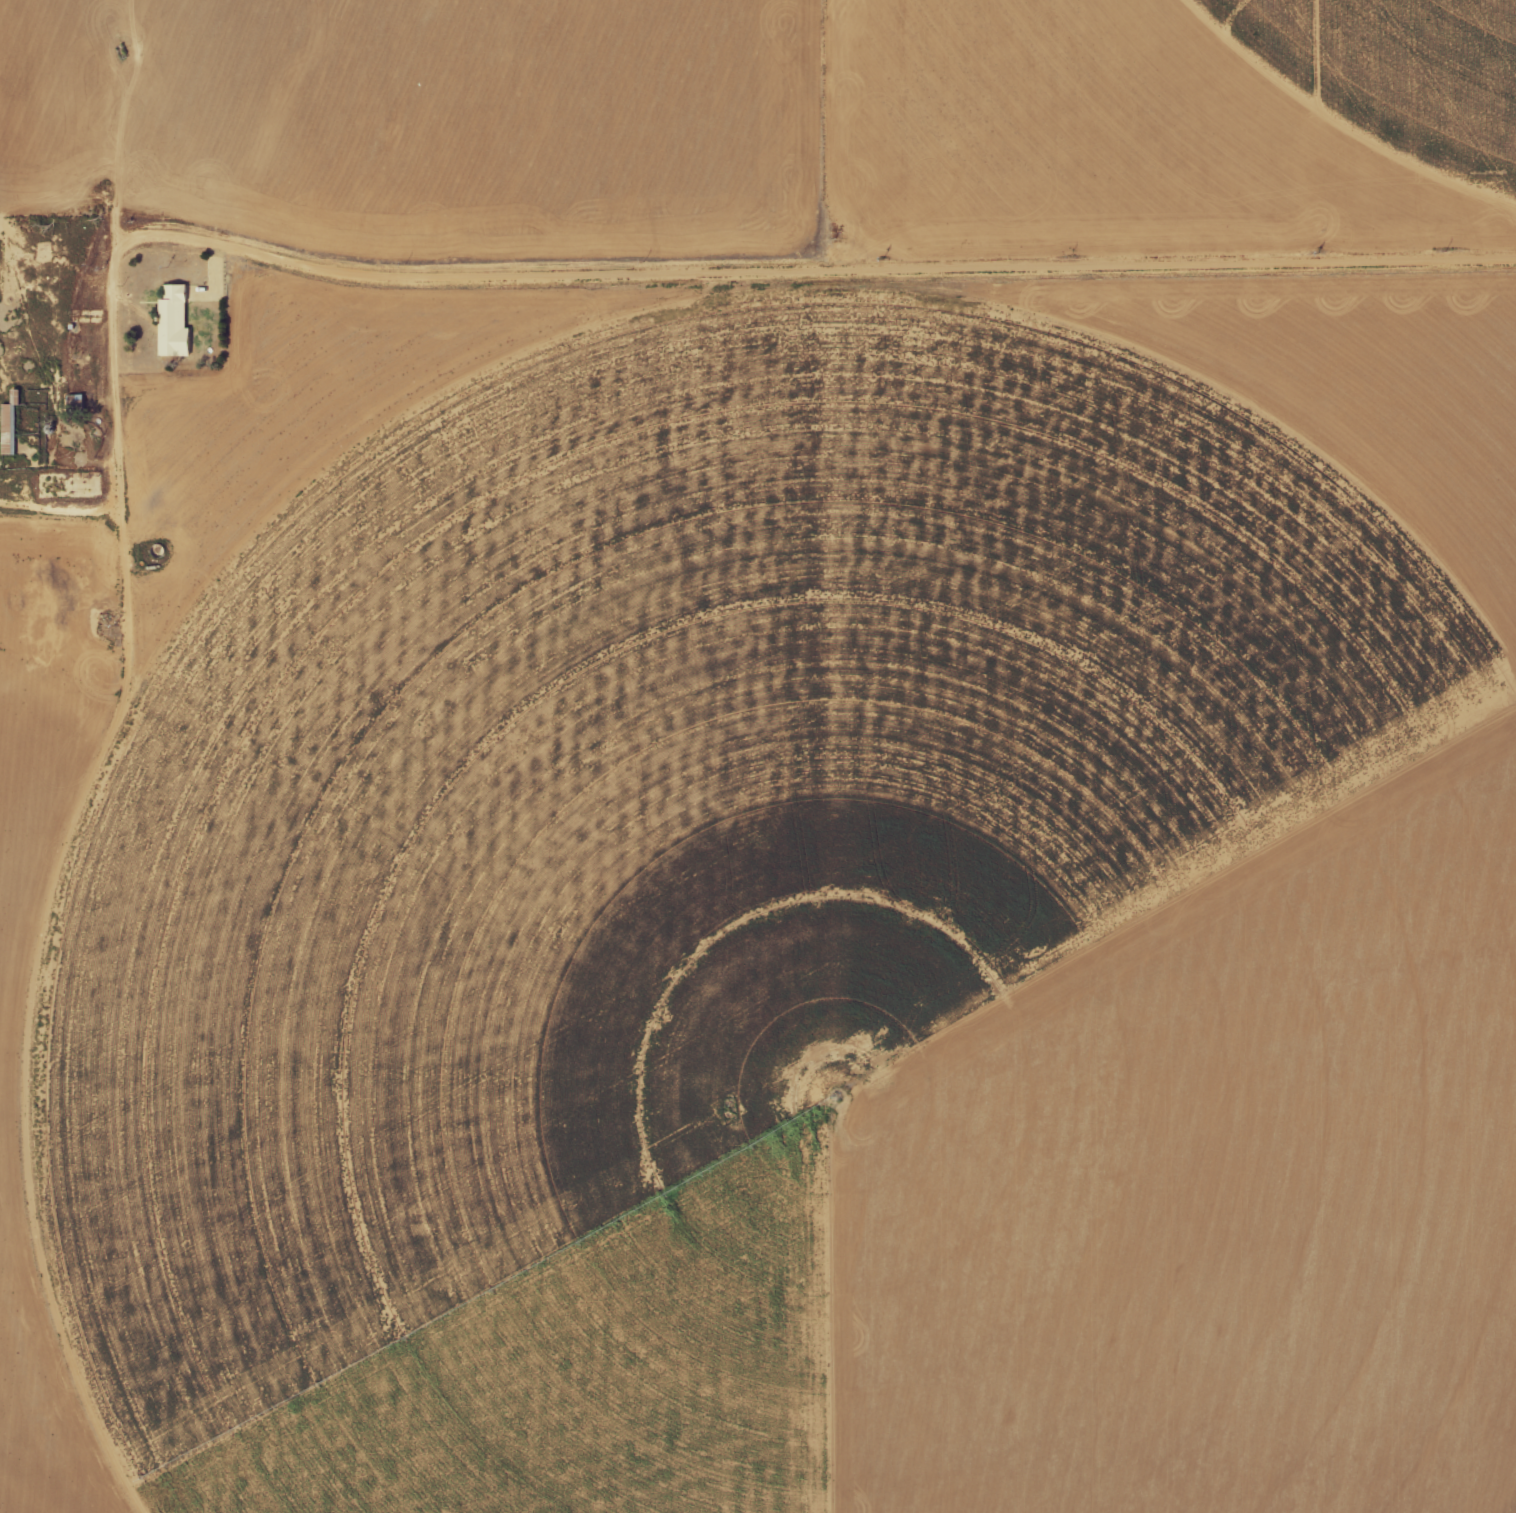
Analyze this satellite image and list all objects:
road: (682, 273)

